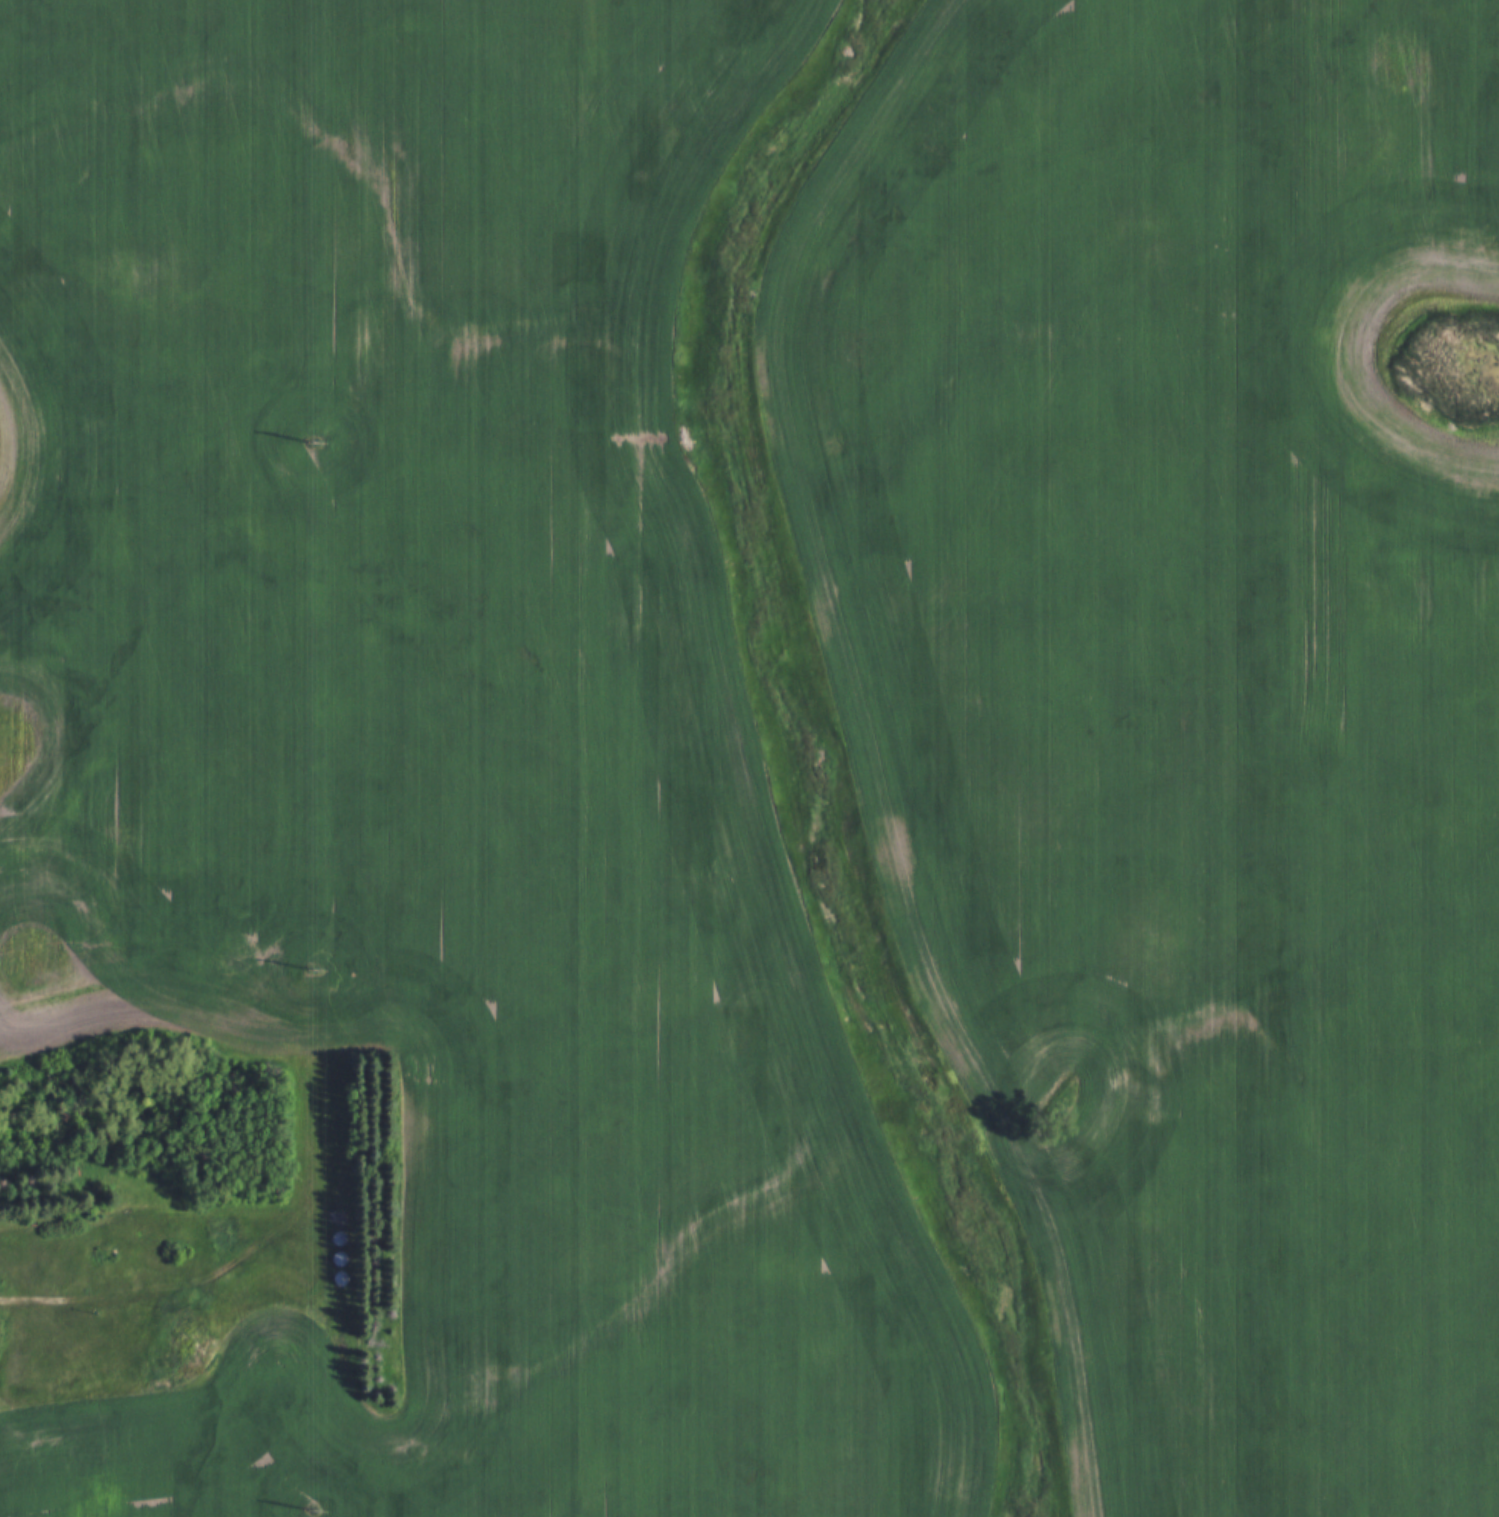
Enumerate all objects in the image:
building: (331, 1205)
building: (335, 1227)
silo: (335, 1227)
building: (336, 1238)
building: (335, 1248)
silo: (335, 1248)
building: (337, 1258)
building: (336, 1267)
silo: (336, 1267)
road: (39, 1298)
building: (187, 1348)

